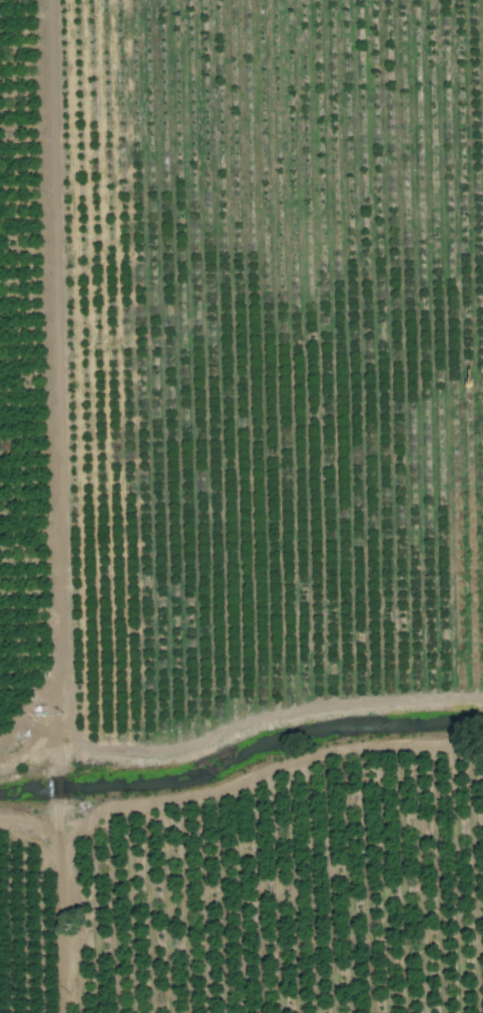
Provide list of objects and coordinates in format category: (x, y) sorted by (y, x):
road: (265, 721)
road: (28, 756)
road: (56, 787)
road: (28, 827)

